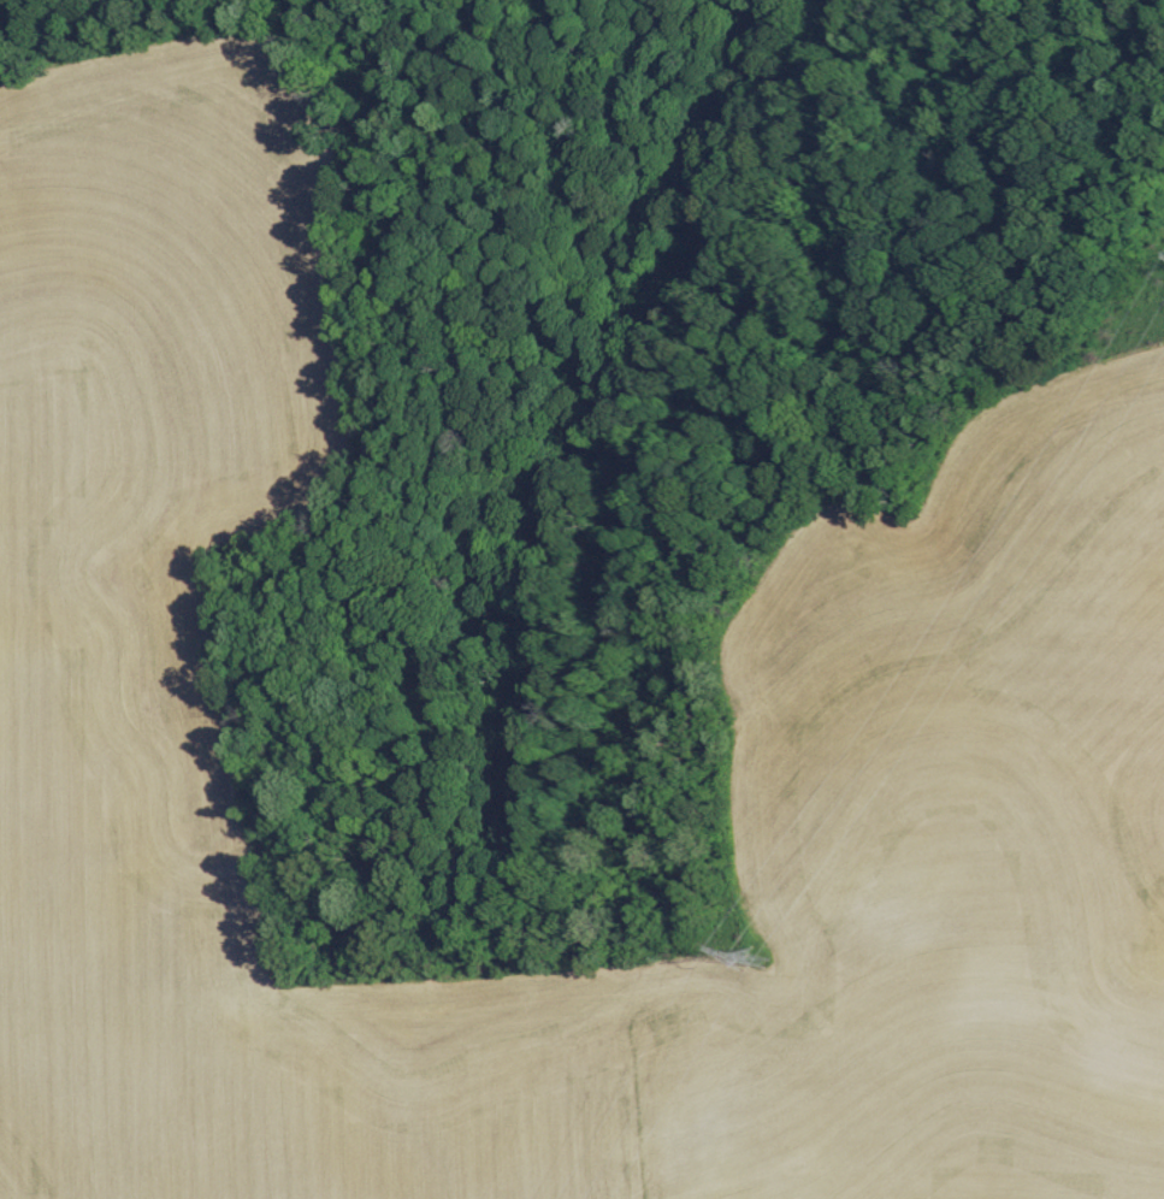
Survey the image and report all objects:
power tower: (762, 957)

